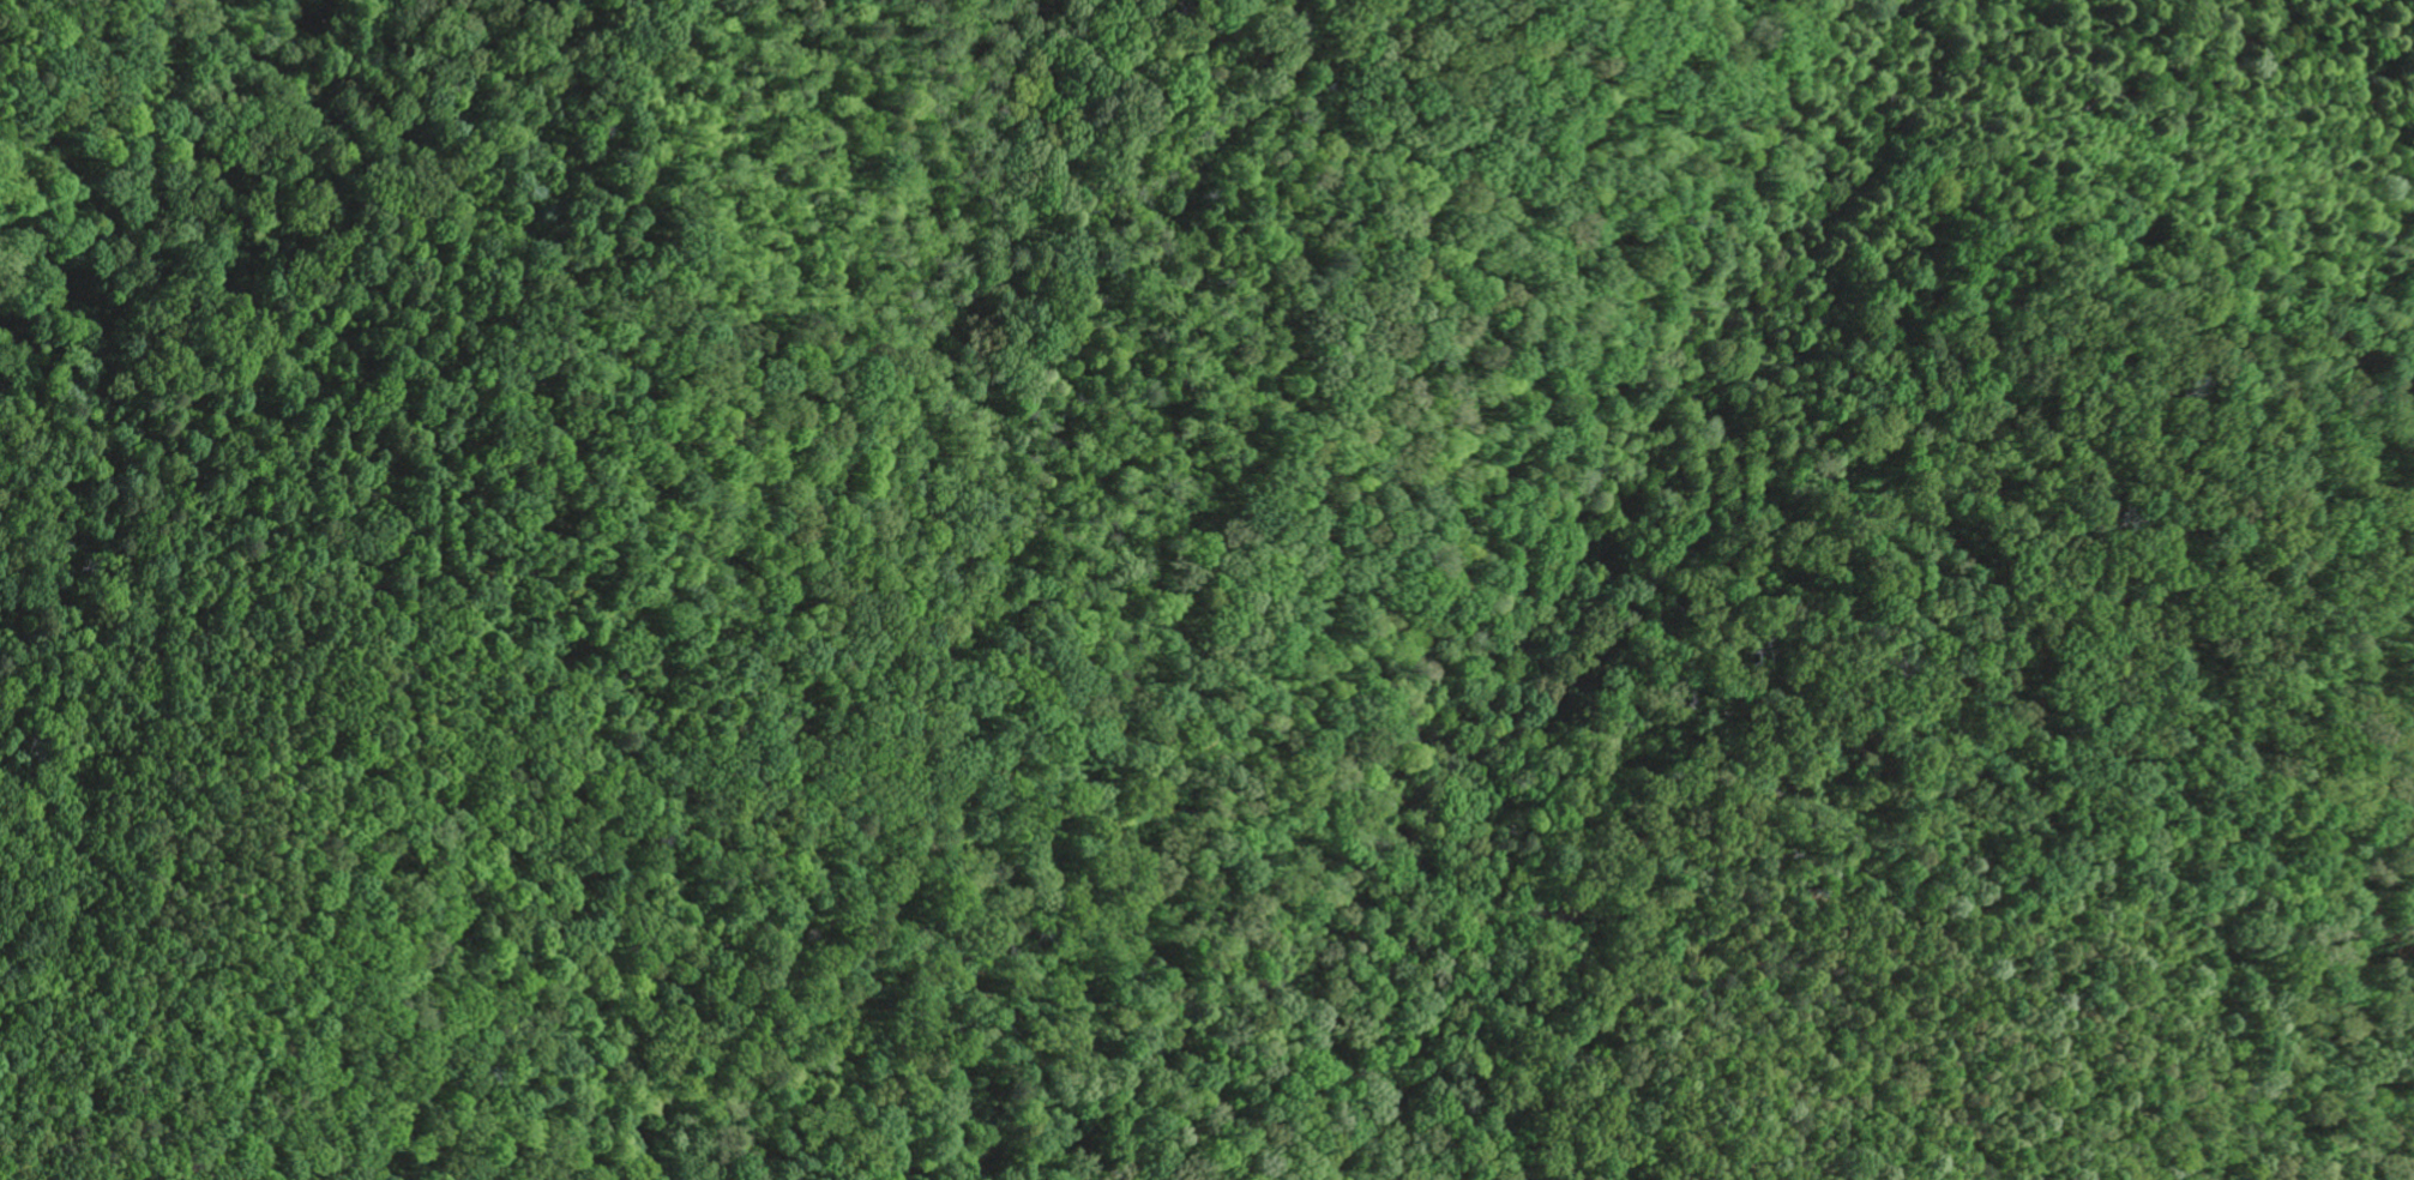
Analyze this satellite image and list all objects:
road: (1349, 1083)

